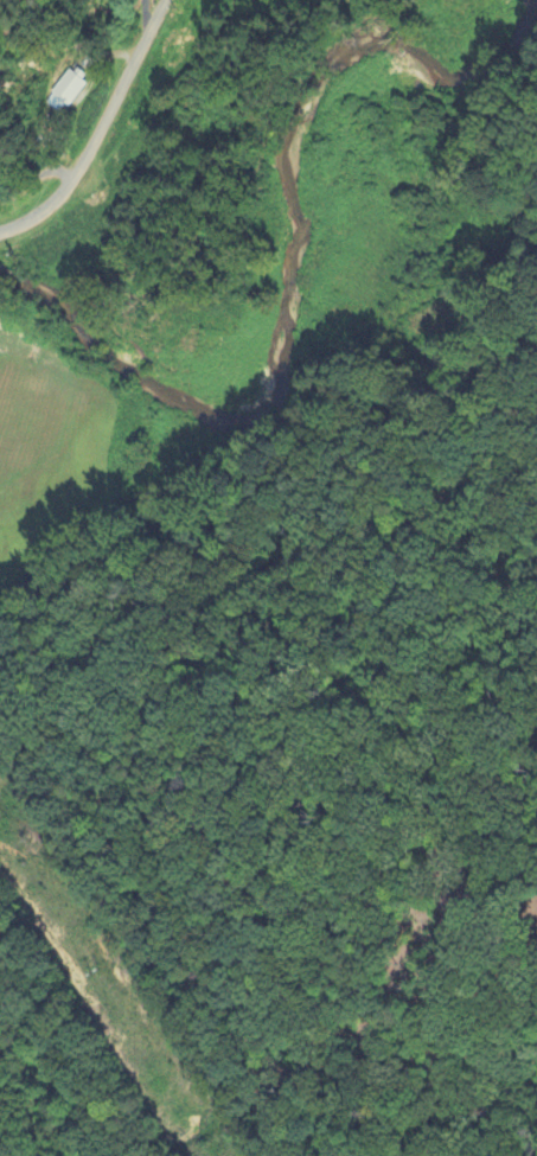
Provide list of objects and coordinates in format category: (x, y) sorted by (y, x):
road: (100, 132)
road: (37, 186)
road: (513, 946)
power tower: (94, 973)

